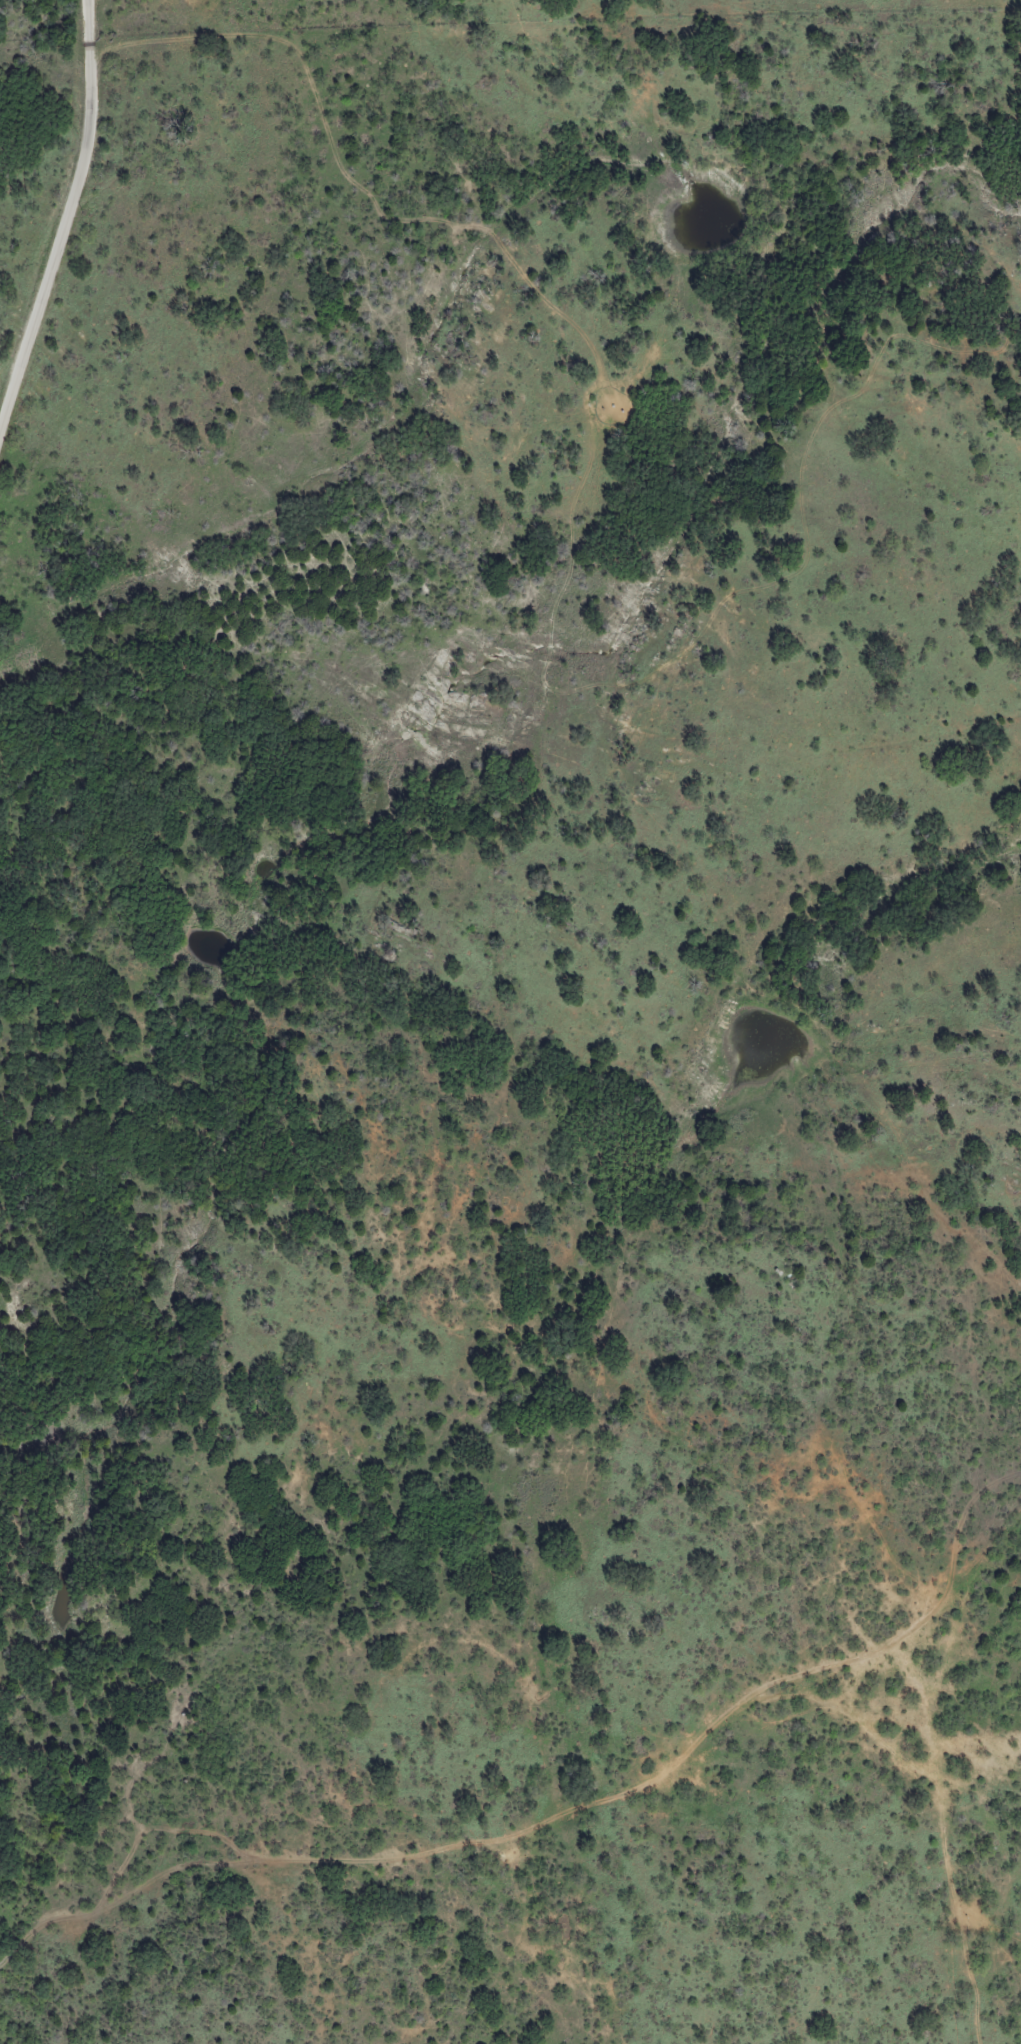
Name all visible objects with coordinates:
road: (66, 217)

